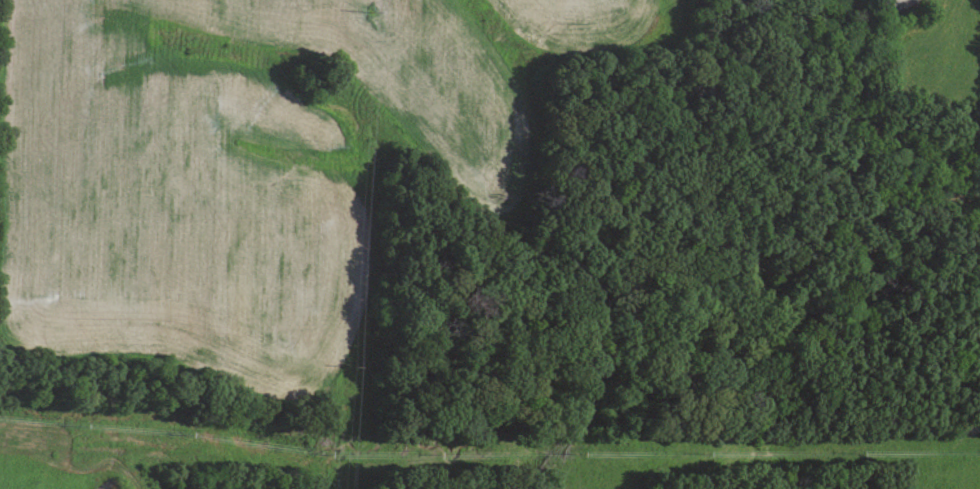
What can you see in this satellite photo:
building: (877, 2)

